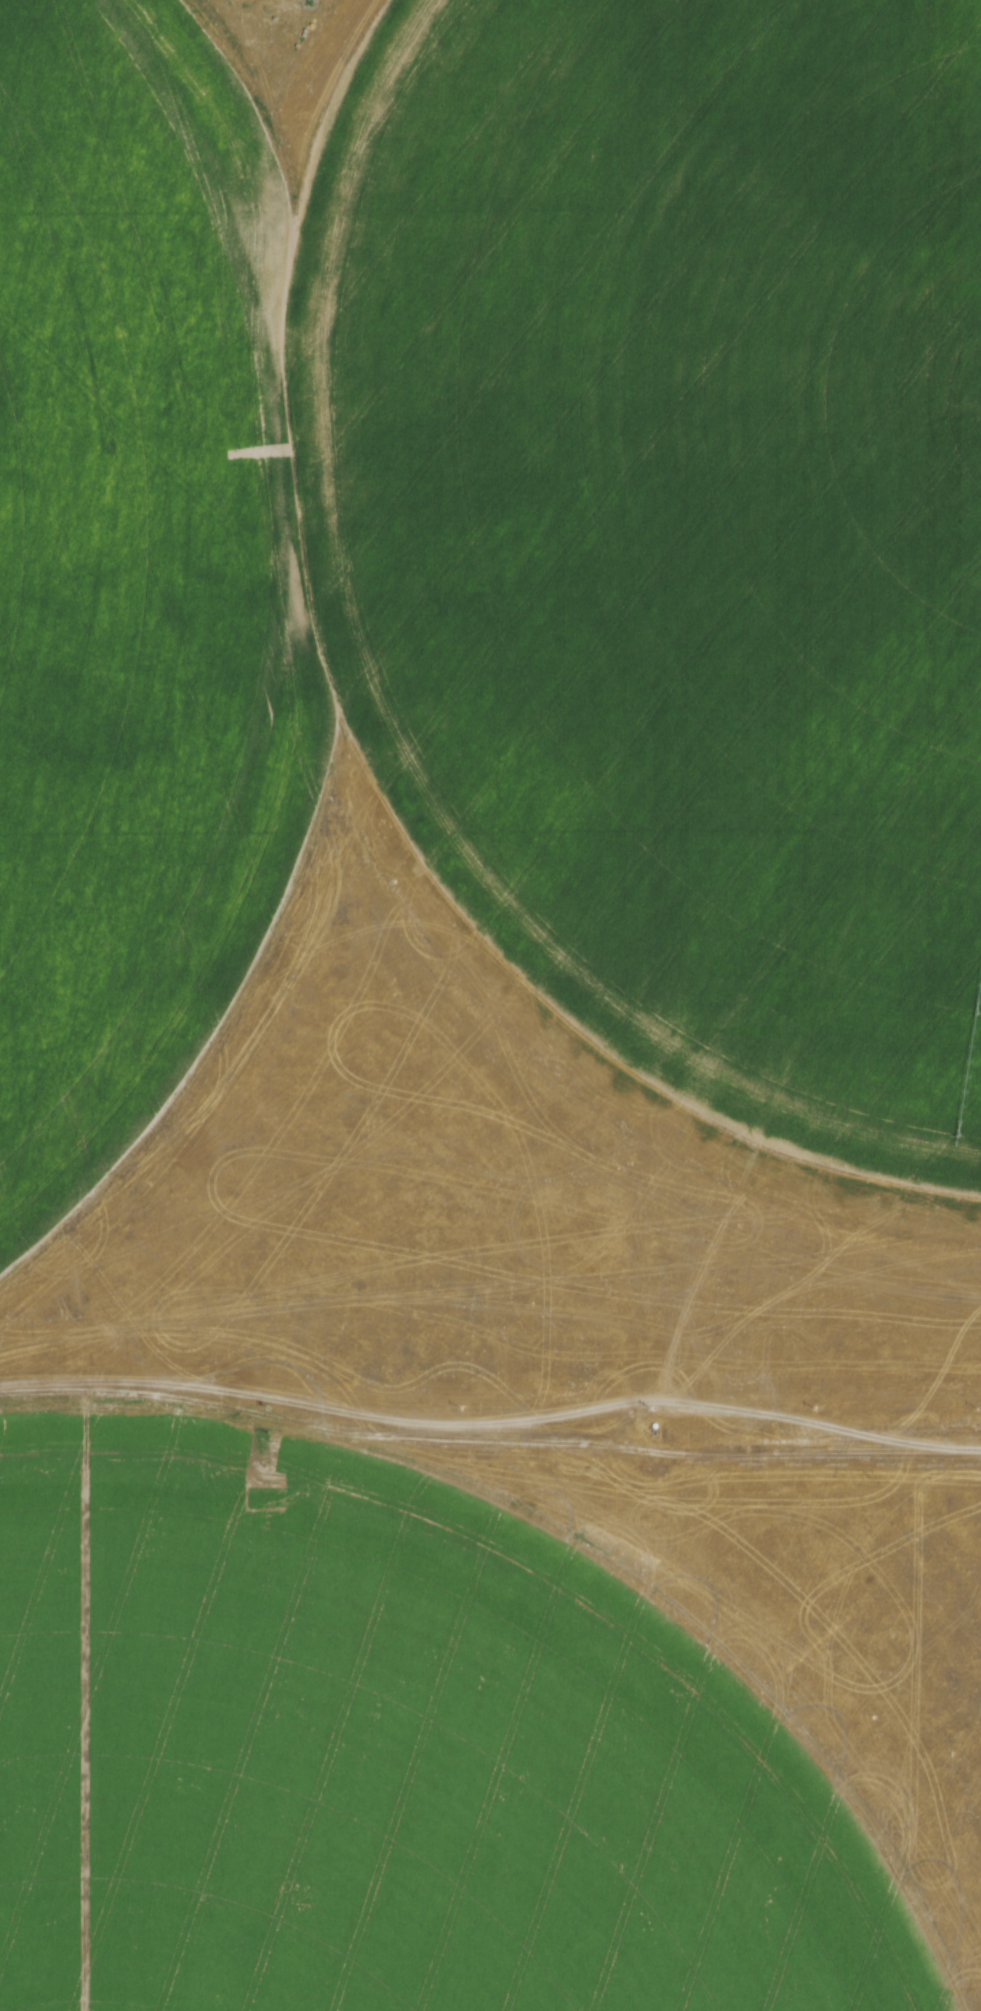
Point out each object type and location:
road: (488, 1440)

